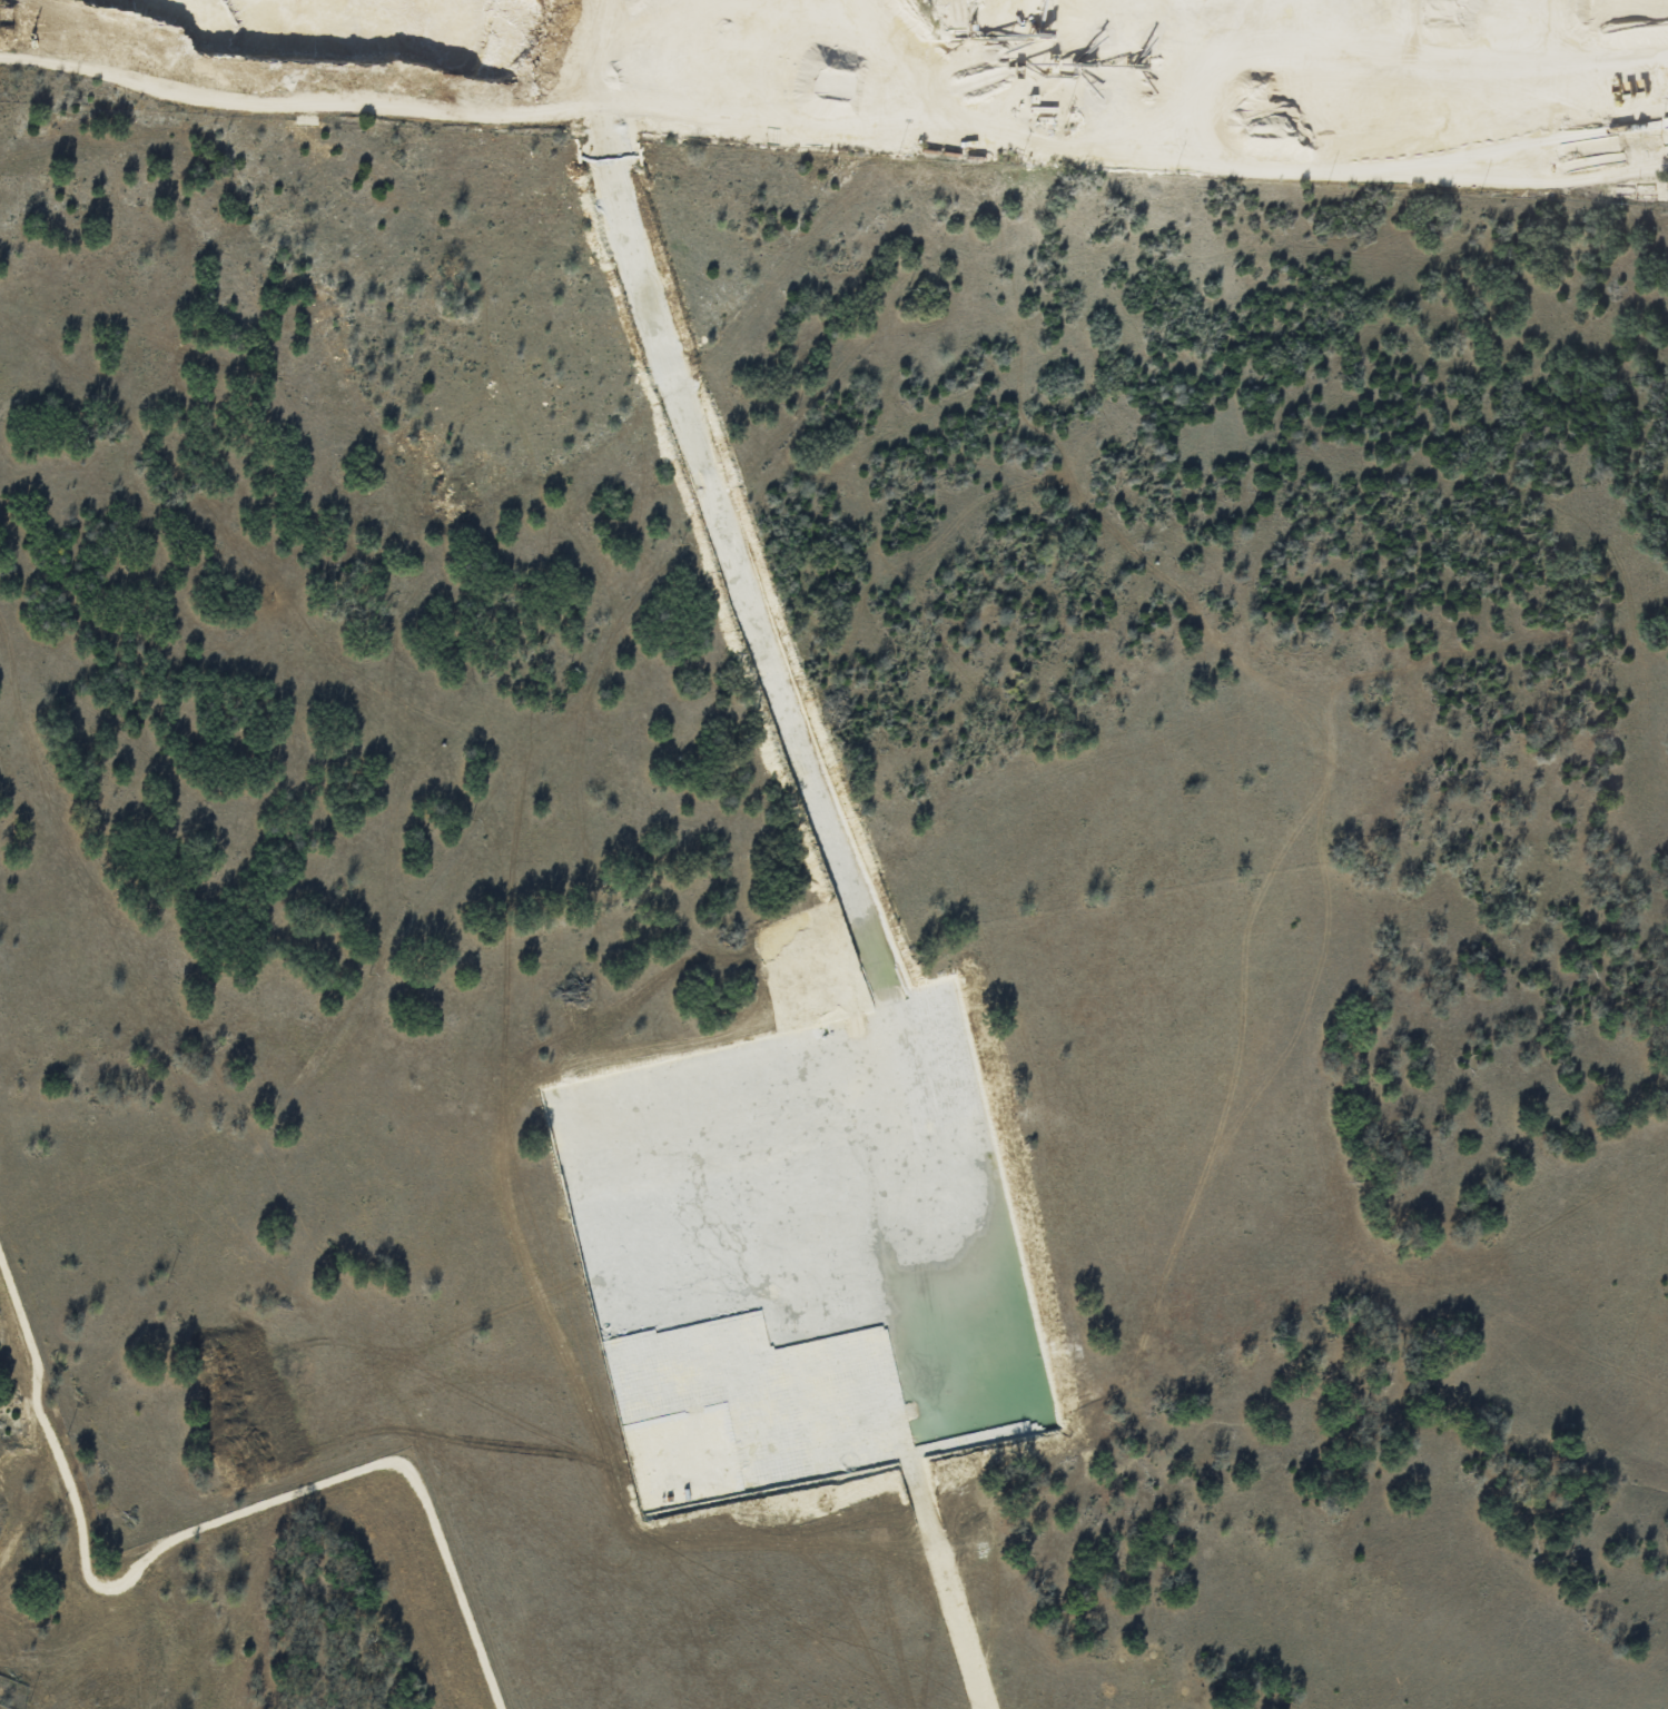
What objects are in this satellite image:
quarry: (1062, 70)
road: (949, 1584)

